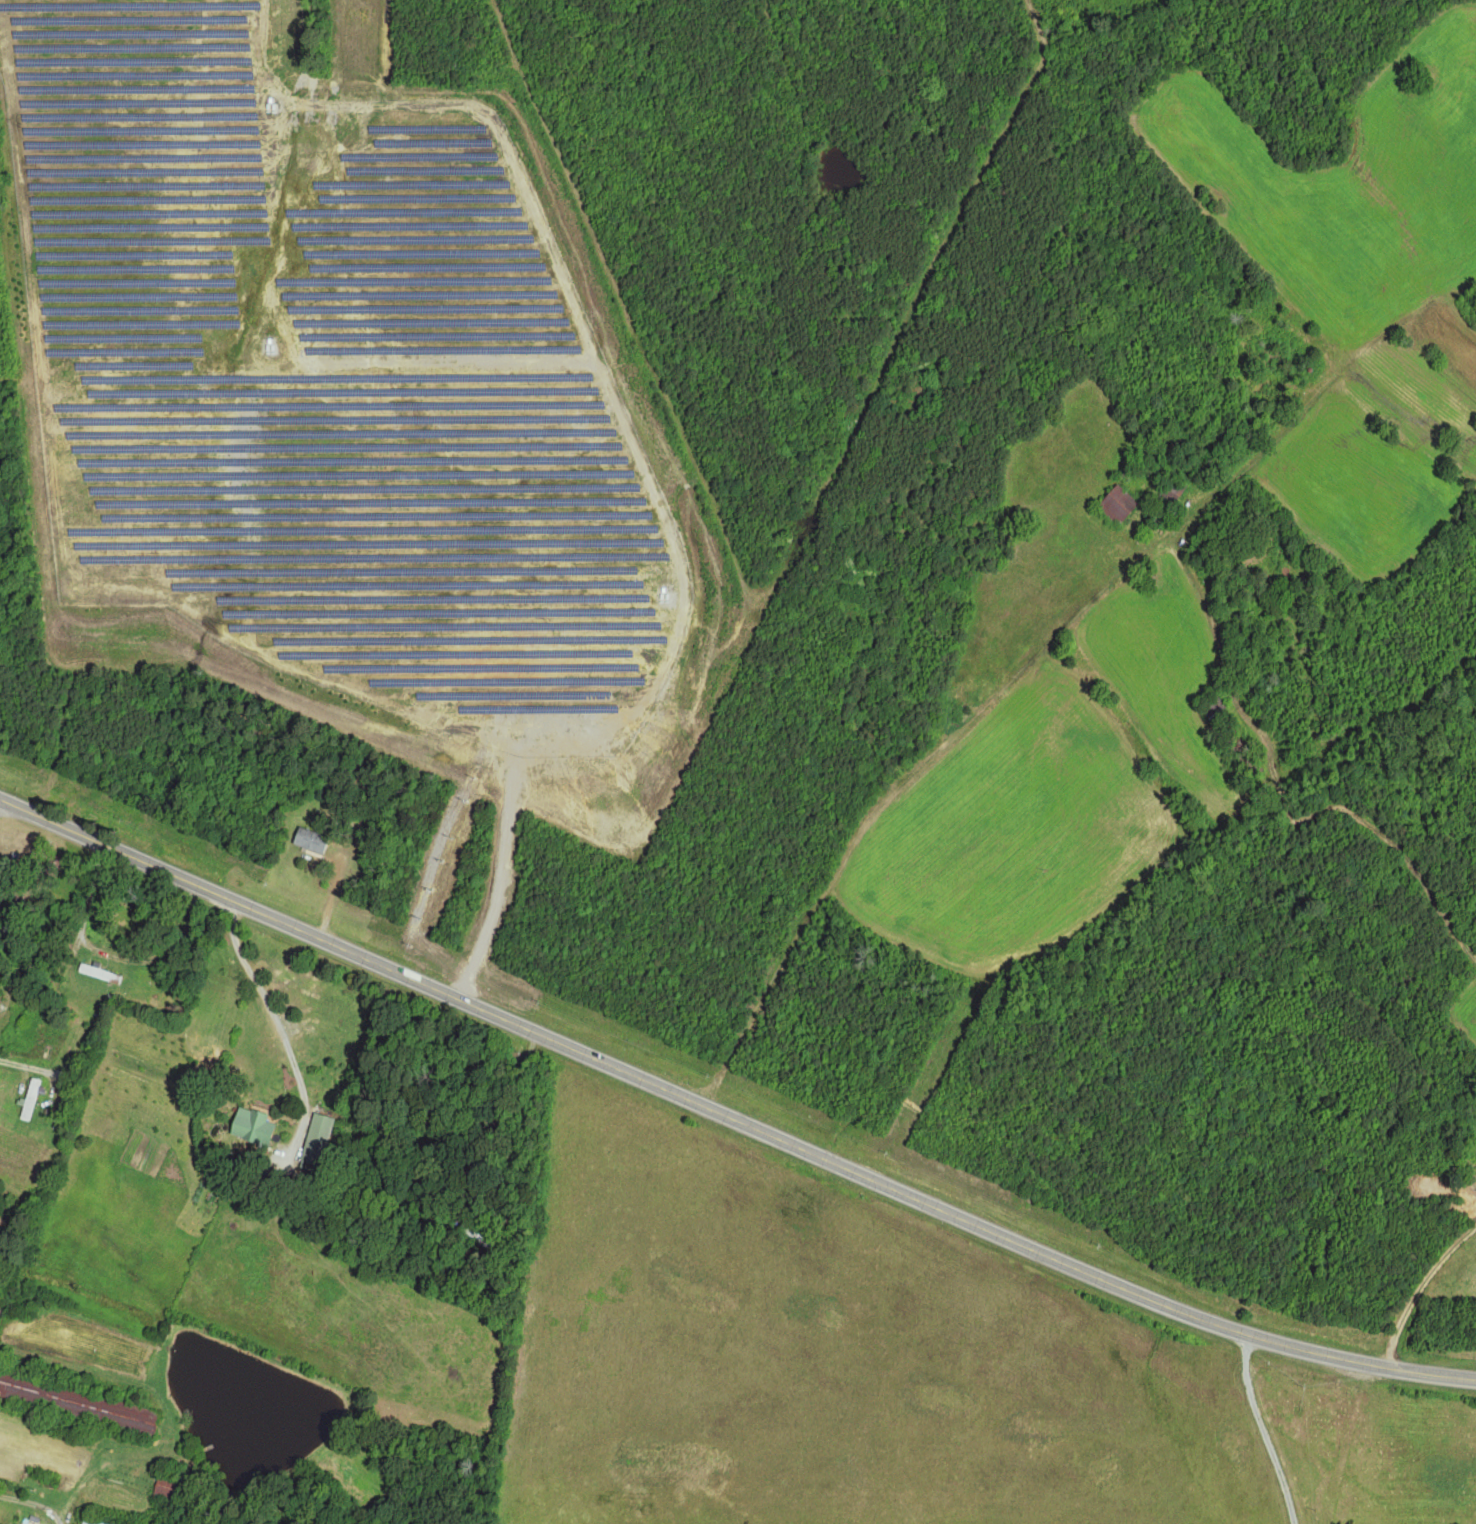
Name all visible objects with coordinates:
solar farm: (329, 383)
building: (307, 839)
building: (96, 973)
building: (29, 1099)
road: (730, 1116)
building: (248, 1126)
building: (317, 1130)
road: (1400, 1280)
road: (1264, 1431)

